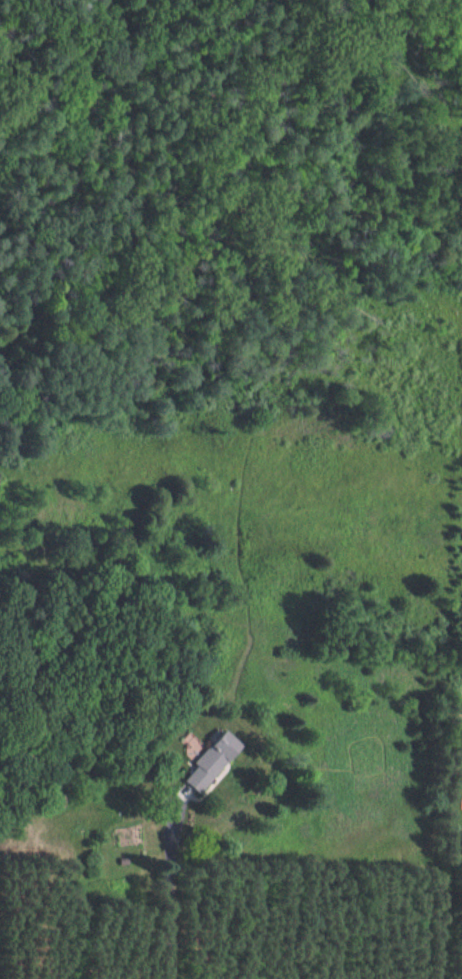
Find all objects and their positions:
building: (218, 762)

